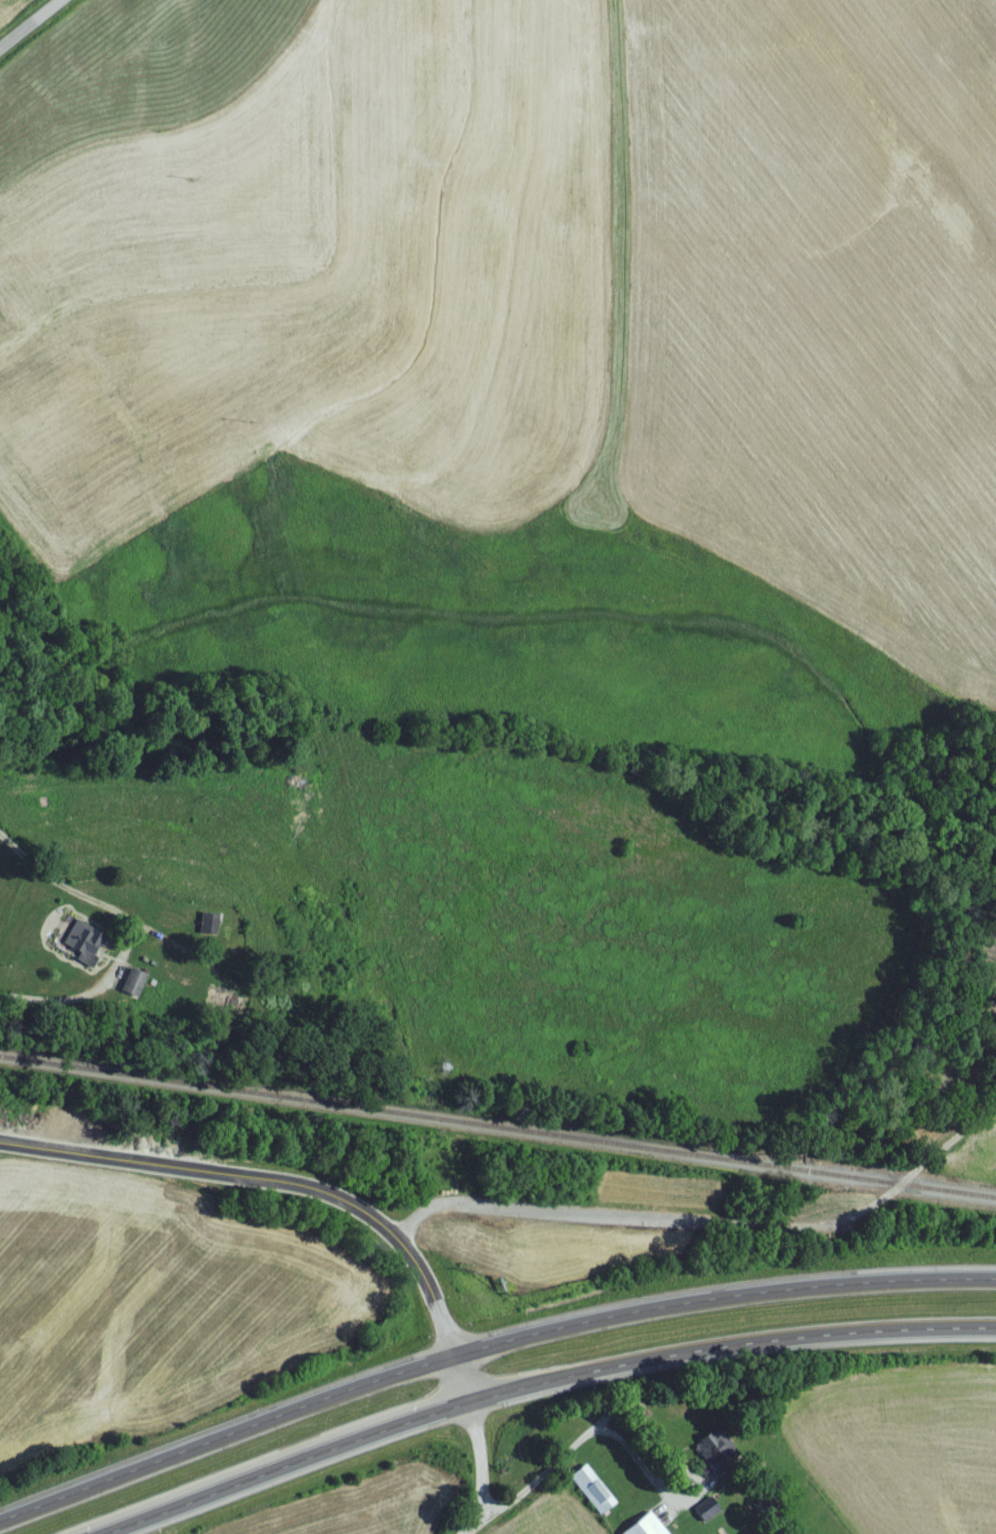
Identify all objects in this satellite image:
road: (32, 26)
road: (132, 932)
road: (174, 944)
building: (84, 951)
building: (130, 989)
building: (209, 1004)
railway: (497, 1132)
road: (291, 1190)
road: (711, 1228)
road: (485, 1348)
road: (545, 1385)
road: (484, 1468)
road: (650, 1477)
building: (589, 1495)
building: (642, 1528)

